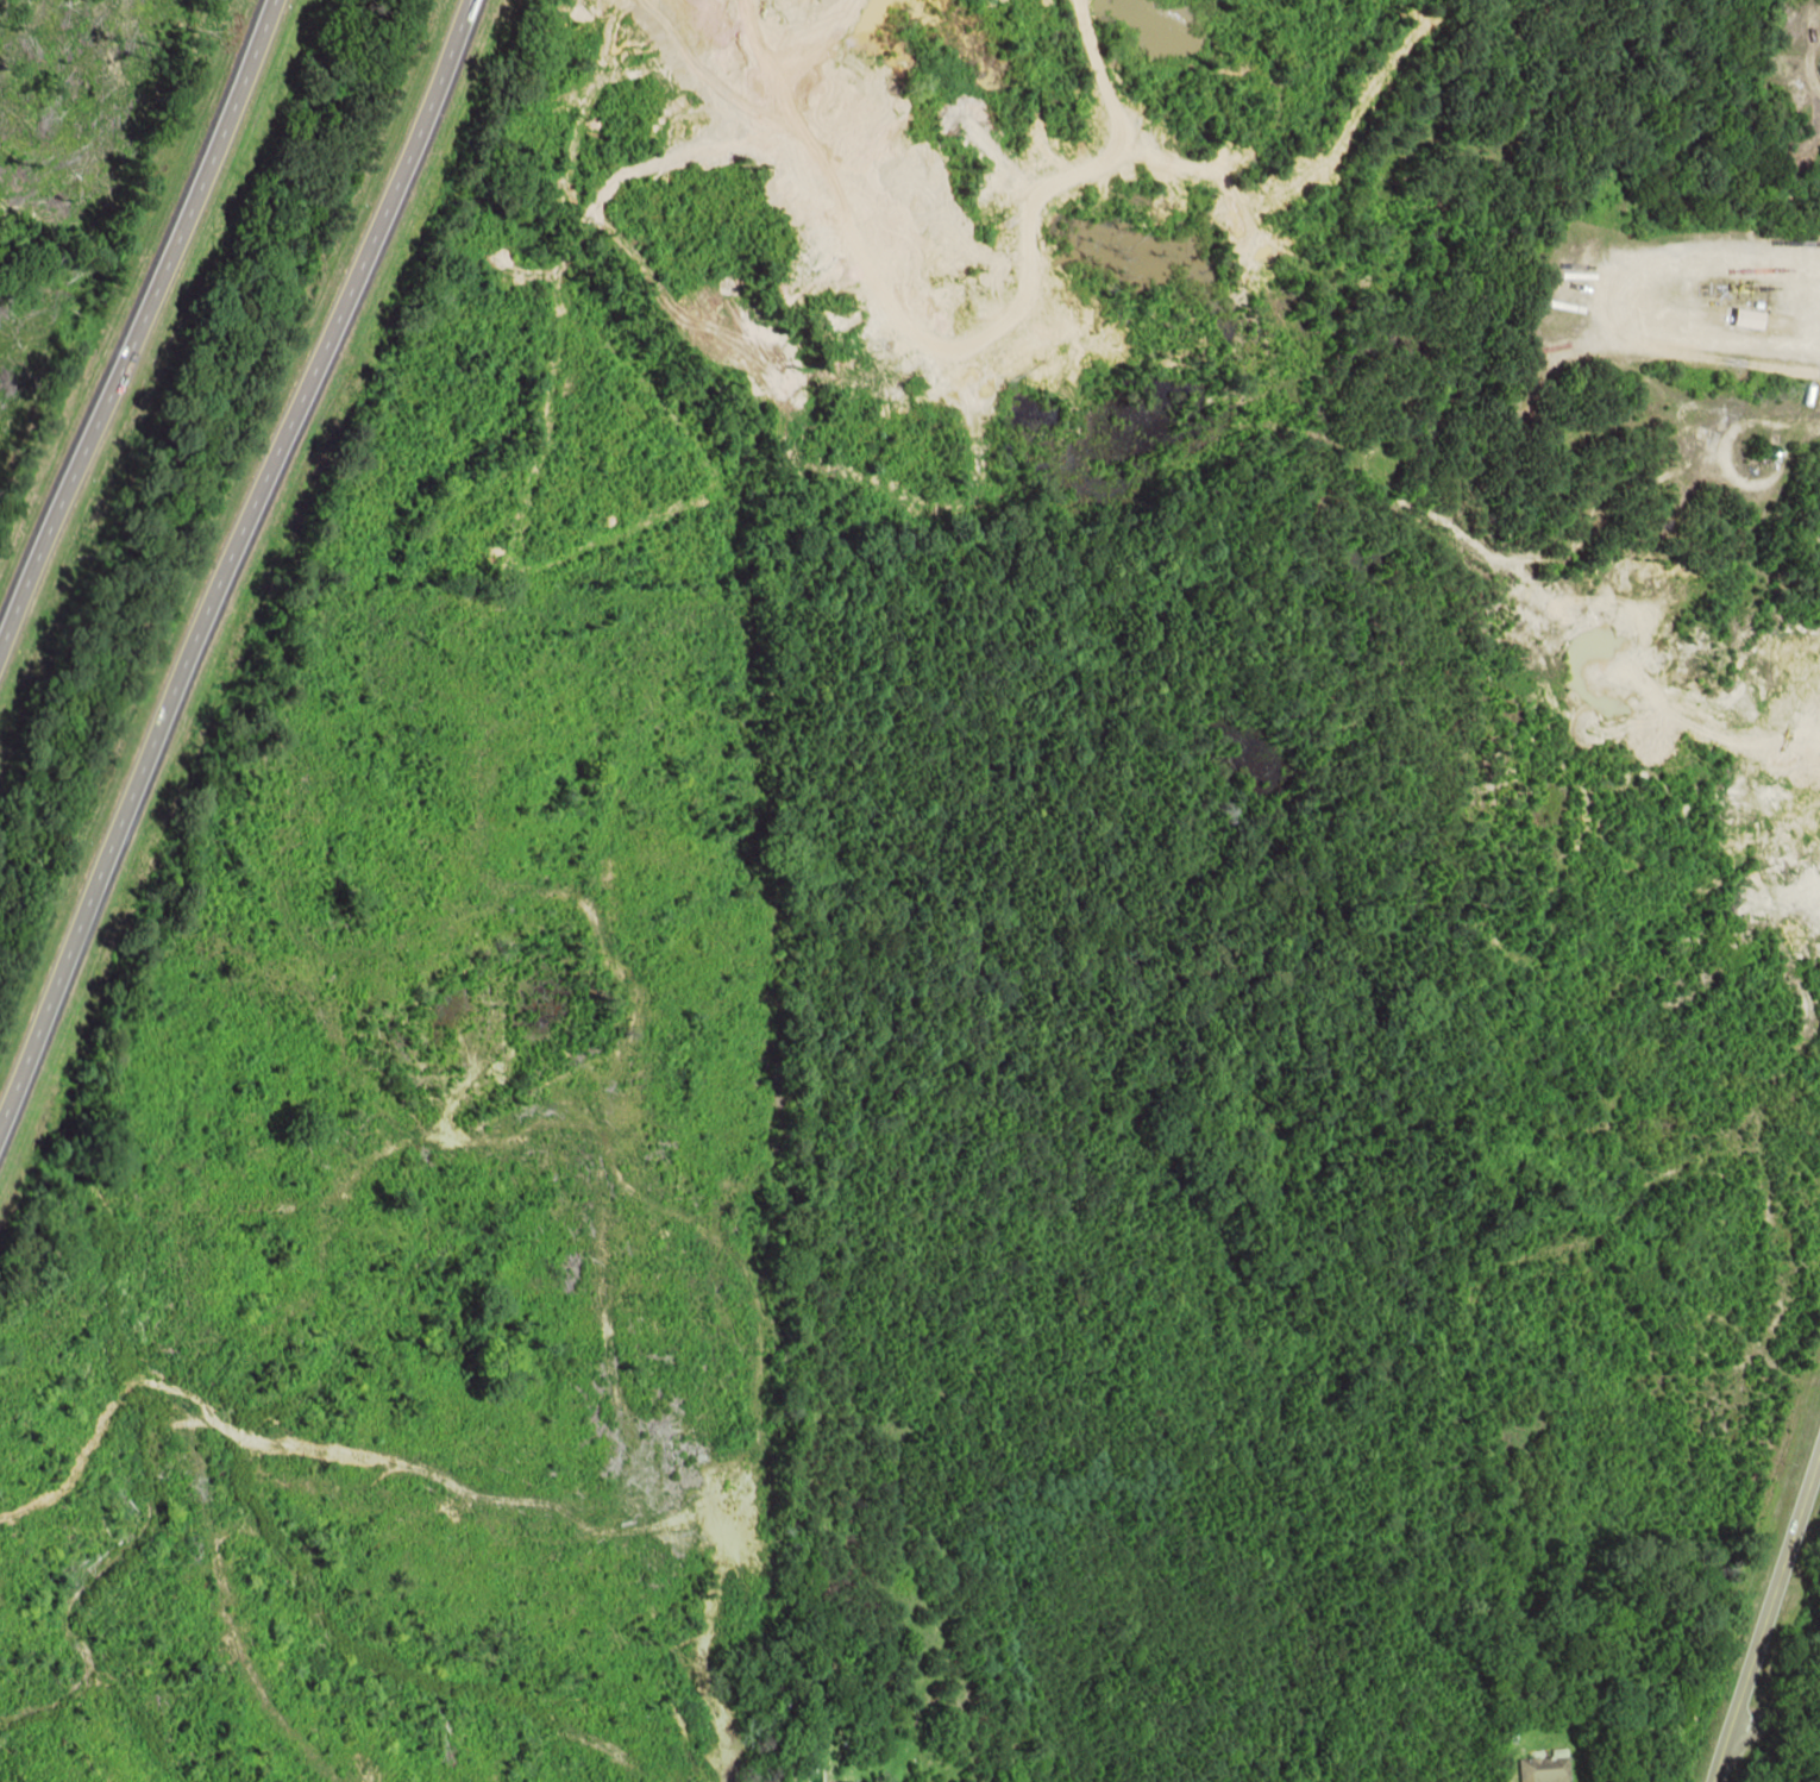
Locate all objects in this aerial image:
road: (132, 316)
building: (1736, 319)
road: (238, 558)
road: (400, 1282)
road: (1765, 1608)
road: (470, 1682)
road: (1776, 1719)
building: (1539, 1768)
building: (841, 1781)

